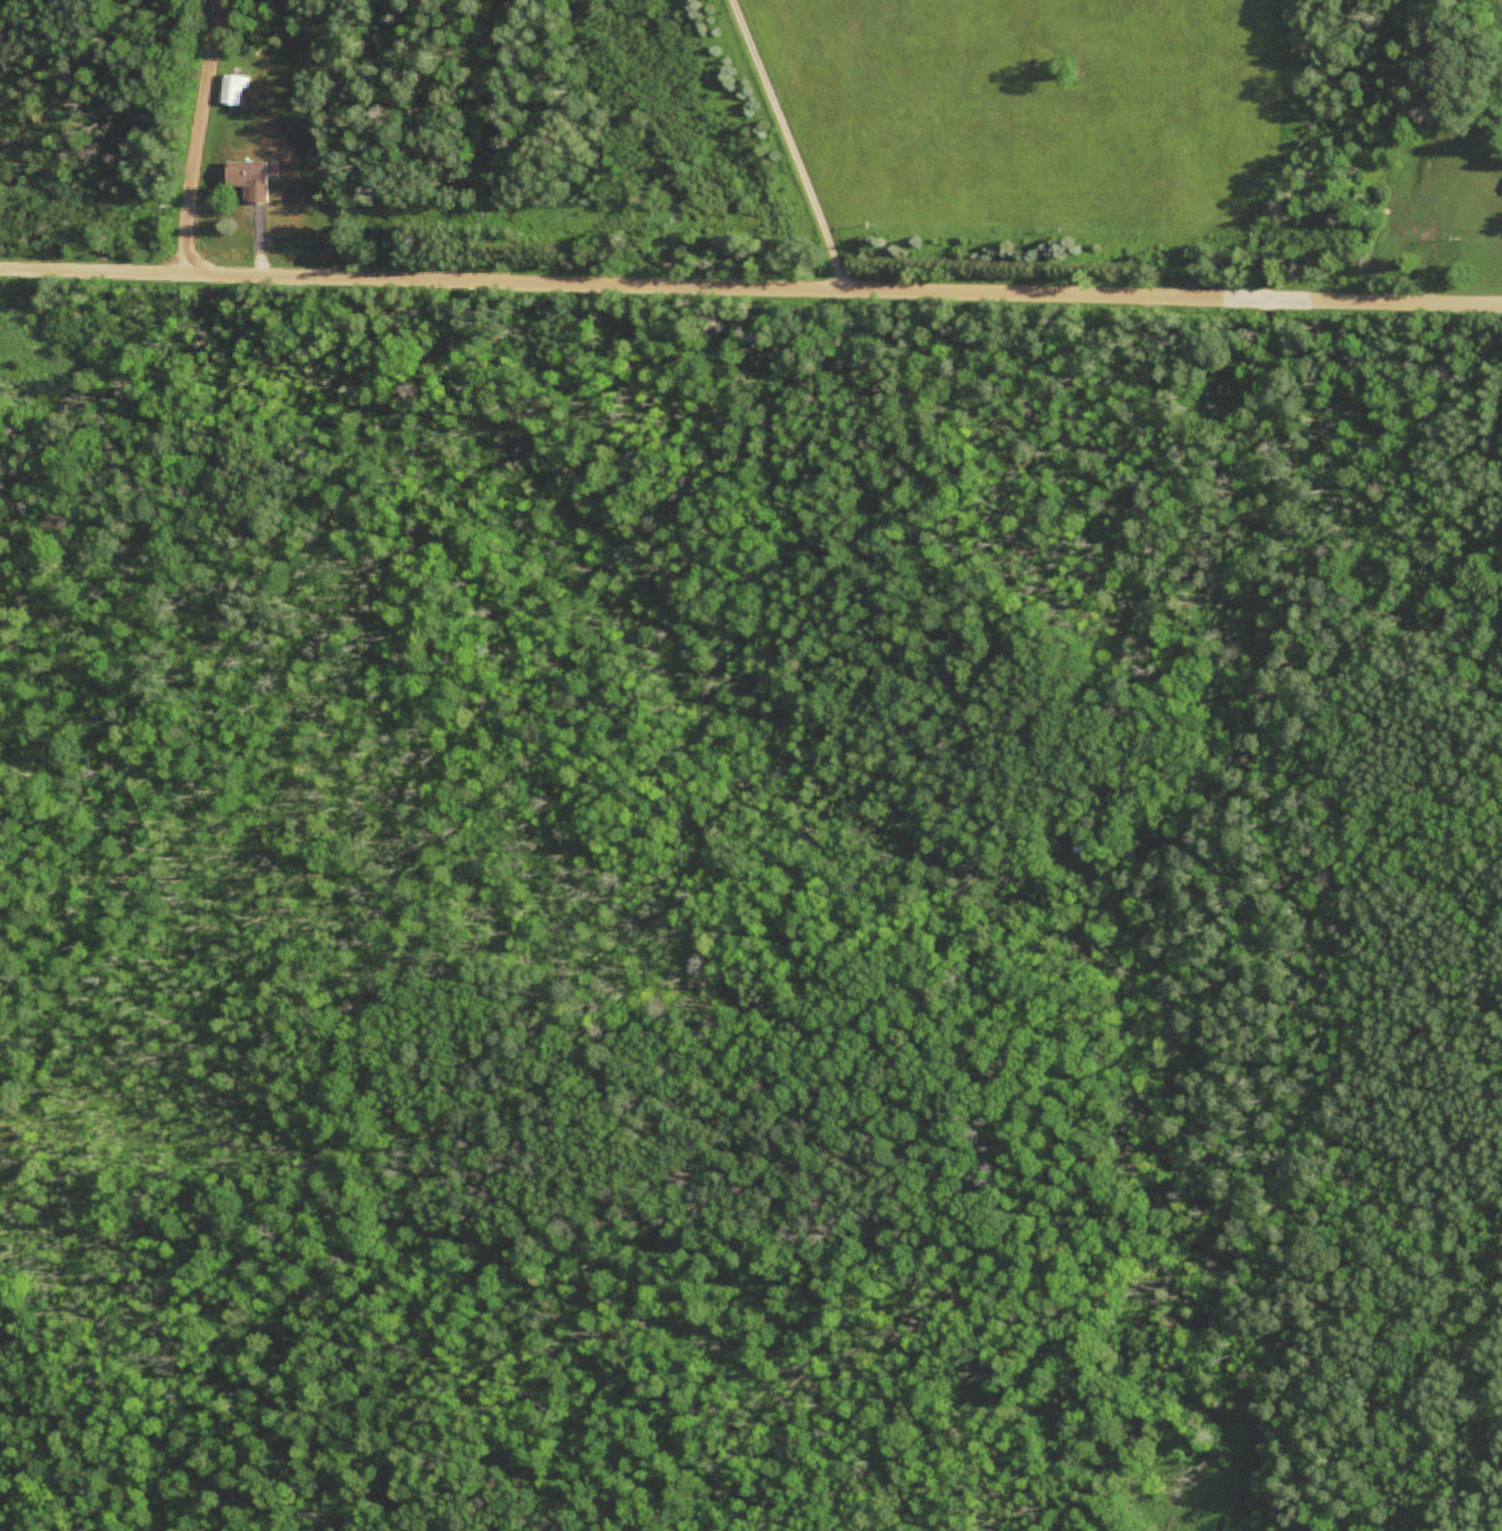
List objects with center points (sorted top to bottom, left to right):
building: (238, 91)
road: (201, 136)
road: (789, 143)
building: (257, 181)
road: (750, 287)
road: (1138, 527)

